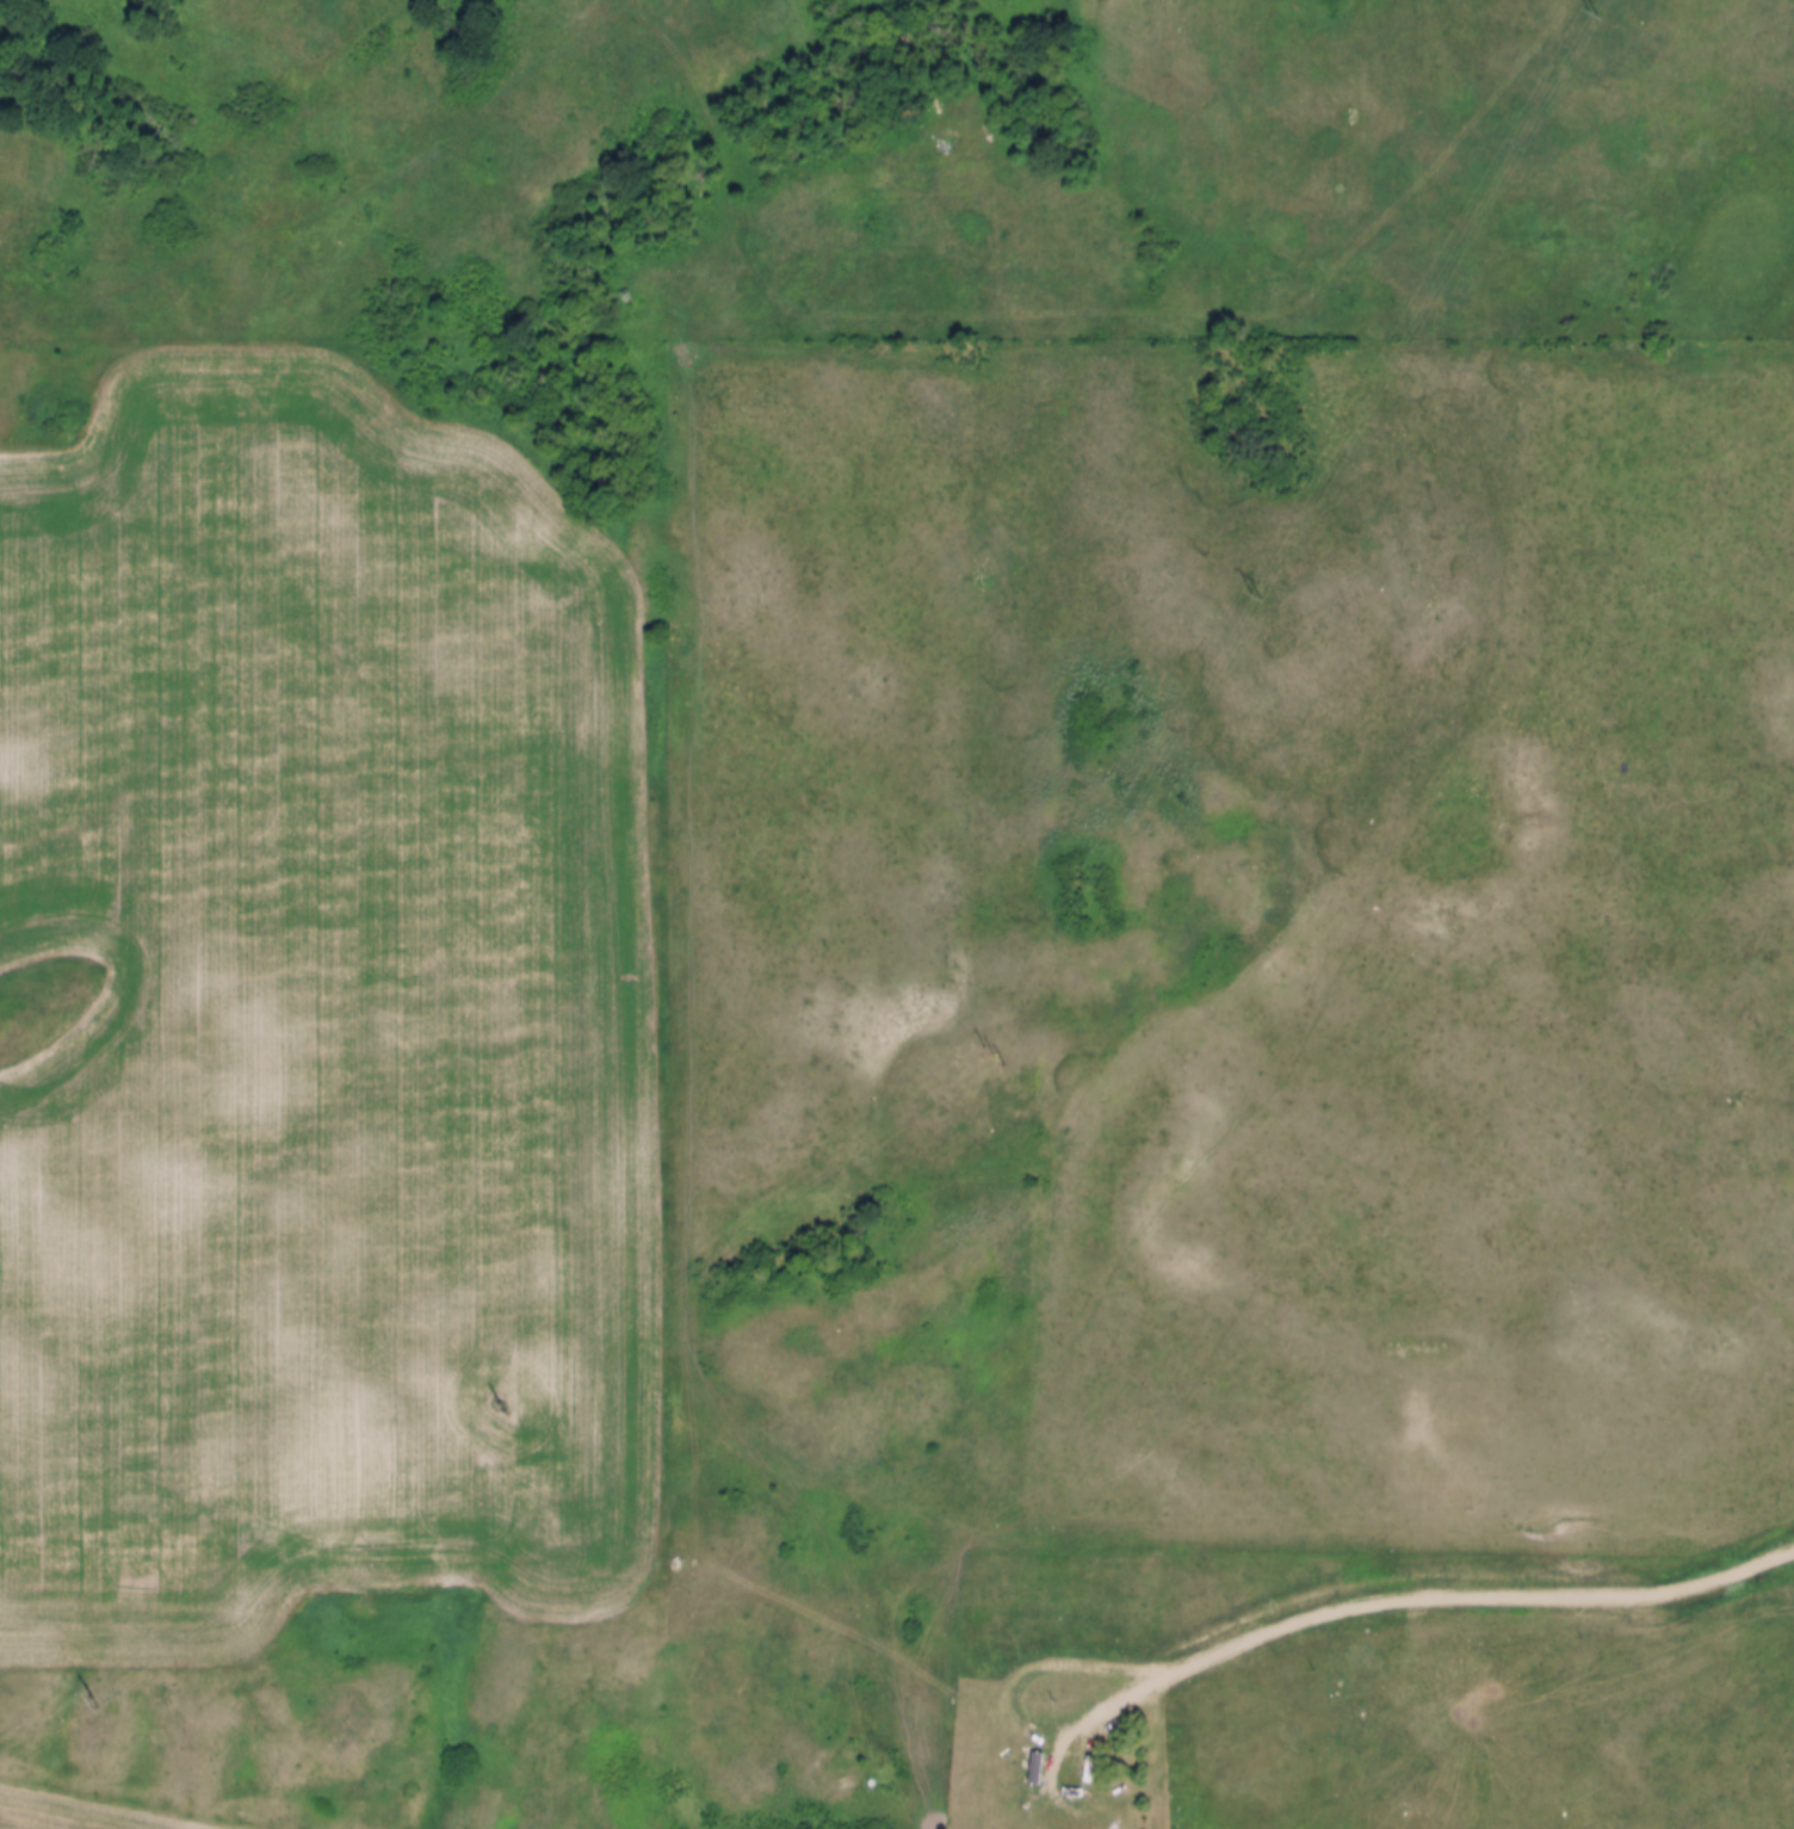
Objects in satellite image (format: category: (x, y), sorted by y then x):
road: (1468, 1593)
road: (1028, 1707)
building: (1028, 1756)
building: (1080, 1759)
building: (1066, 1772)

